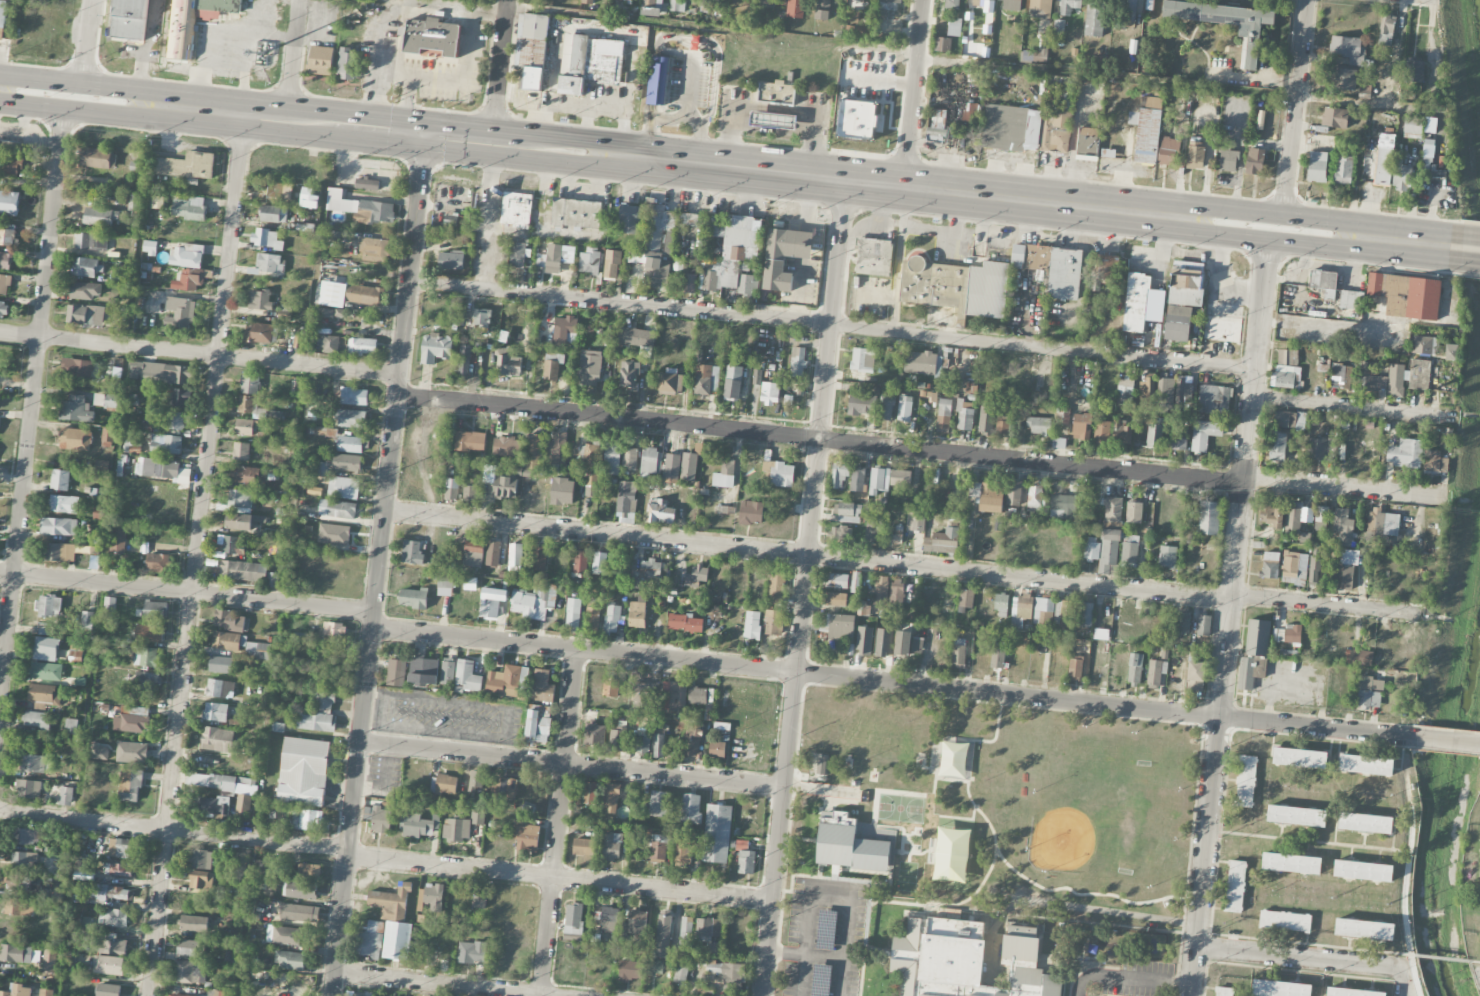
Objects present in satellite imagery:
building: (628, 0)
building: (891, 1)
building: (588, 2)
building: (767, 3)
building: (952, 4)
building: (677, 5)
building: (984, 5)
building: (1011, 5)
building: (1069, 6)
building: (1041, 8)
building: (795, 9)
building: (823, 10)
building: (1130, 10)
building: (650, 12)
building: (3, 18)
building: (129, 20)
building: (1093, 21)
building: (193, 23)
building: (954, 27)
building: (1059, 27)
building: (1249, 30)
building: (1386, 30)
building: (432, 37)
building: (942, 45)
building: (1348, 48)
road: (89, 50)
building: (532, 50)
road: (913, 55)
building: (1039, 56)
road: (293, 61)
building: (320, 61)
building: (590, 63)
building: (1415, 70)
building: (347, 71)
road: (500, 72)
building: (1344, 78)
building: (658, 81)
road: (448, 83)
building: (1364, 90)
building: (777, 93)
road: (915, 94)
building: (1064, 97)
building: (1151, 101)
road: (568, 105)
road: (1296, 106)
building: (969, 116)
road: (623, 117)
building: (1335, 117)
road: (678, 121)
building: (774, 121)
building: (938, 124)
building: (1430, 125)
building: (1012, 127)
building: (1413, 127)
building: (1056, 130)
building: (1146, 134)
building: (1088, 142)
building: (9, 147)
building: (1169, 151)
building: (1107, 153)
building: (1195, 154)
road: (594, 156)
building: (98, 159)
building: (1385, 159)
building: (1229, 160)
building: (1255, 160)
building: (1430, 161)
building: (10, 166)
building: (187, 166)
building: (1317, 166)
building: (1343, 169)
building: (1402, 176)
building: (367, 184)
building: (270, 193)
building: (310, 199)
building: (9, 203)
building: (158, 203)
building: (361, 208)
building: (190, 209)
building: (516, 210)
road: (1282, 212)
building: (576, 214)
building: (271, 215)
building: (100, 217)
building: (454, 220)
building: (629, 220)
building: (688, 220)
building: (659, 227)
building: (7, 235)
building: (266, 239)
building: (90, 242)
road: (1278, 243)
road: (1411, 244)
building: (669, 245)
building: (716, 246)
building: (149, 247)
building: (375, 250)
road: (1465, 250)
building: (730, 251)
building: (517, 255)
building: (186, 256)
building: (784, 257)
building: (874, 258)
building: (549, 259)
building: (5, 261)
building: (451, 261)
building: (590, 261)
road: (899, 261)
building: (269, 263)
building: (612, 264)
building: (1107, 266)
building: (87, 267)
building: (1052, 267)
building: (657, 272)
building: (119, 278)
building: (187, 282)
building: (1324, 283)
building: (4, 284)
building: (688, 284)
building: (748, 286)
building: (956, 286)
building: (1185, 290)
building: (85, 291)
building: (333, 295)
building: (365, 295)
building: (1407, 295)
building: (1351, 299)
building: (260, 301)
building: (1136, 302)
building: (4, 310)
building: (180, 313)
building: (85, 315)
building: (481, 318)
building: (1177, 323)
road: (833, 326)
building: (565, 329)
building: (1223, 329)
building: (259, 333)
building: (637, 340)
building: (297, 342)
building: (329, 345)
building: (1424, 345)
building: (361, 347)
building: (435, 349)
building: (1451, 352)
road: (199, 354)
building: (1287, 357)
building: (862, 360)
building: (797, 362)
building: (463, 363)
building: (508, 363)
building: (922, 363)
building: (118, 366)
building: (77, 368)
building: (592, 369)
building: (551, 370)
building: (160, 373)
building: (629, 374)
building: (1418, 374)
building: (1340, 376)
building: (757, 377)
building: (1285, 377)
building: (1370, 378)
building: (707, 380)
building: (1396, 380)
building: (733, 382)
building: (671, 384)
building: (249, 385)
building: (1105, 386)
building: (971, 388)
building: (1126, 388)
building: (1146, 389)
building: (1184, 392)
building: (770, 394)
building: (1166, 395)
building: (354, 397)
building: (177, 398)
building: (1214, 399)
building: (105, 400)
road: (31, 401)
building: (862, 405)
road: (1354, 407)
building: (886, 408)
building: (905, 409)
building: (75, 410)
building: (257, 410)
building: (944, 414)
building: (964, 415)
building: (1061, 415)
building: (986, 416)
building: (352, 419)
building: (1290, 419)
building: (175, 421)
building: (1002, 424)
building: (1040, 425)
building: (1081, 426)
building: (244, 428)
building: (1102, 431)
building: (1123, 432)
building: (1204, 434)
building: (107, 438)
building: (74, 439)
road: (821, 440)
building: (1178, 440)
building: (469, 441)
building: (1057, 441)
building: (166, 444)
building: (352, 444)
building: (1278, 446)
building: (505, 447)
building: (1318, 448)
building: (134, 450)
building: (556, 450)
building: (533, 451)
building: (241, 452)
building: (1405, 453)
building: (588, 457)
building: (629, 458)
building: (612, 459)
building: (651, 462)
building: (1436, 462)
road: (115, 464)
building: (347, 464)
building: (101, 467)
building: (689, 467)
building: (158, 469)
building: (318, 469)
building: (671, 469)
building: (779, 474)
building: (725, 475)
building: (839, 475)
building: (248, 476)
building: (900, 478)
building: (857, 479)
building: (60, 480)
building: (591, 480)
road: (1246, 480)
building: (879, 481)
building: (505, 487)
road: (1346, 487)
building: (347, 488)
building: (451, 489)
building: (562, 492)
building: (1014, 492)
building: (469, 494)
building: (988, 496)
building: (1034, 497)
building: (240, 499)
building: (626, 503)
building: (63, 504)
building: (1062, 506)
building: (1113, 509)
building: (337, 510)
building: (660, 512)
building: (1134, 512)
building: (751, 513)
building: (849, 513)
building: (1271, 515)
building: (1209, 517)
building: (1322, 517)
building: (1293, 518)
building: (243, 521)
building: (915, 522)
building: (1383, 522)
building: (60, 527)
building: (1343, 527)
building: (873, 529)
building: (841, 533)
building: (334, 535)
building: (898, 535)
building: (117, 540)
building: (942, 542)
building: (231, 545)
building: (1104, 550)
building: (59, 553)
building: (412, 553)
building: (492, 554)
building: (1129, 554)
building: (473, 555)
road: (809, 555)
road: (196, 556)
building: (1167, 556)
building: (515, 557)
building: (538, 558)
road: (284, 561)
building: (157, 563)
building: (580, 563)
building: (599, 563)
building: (1270, 565)
road: (379, 566)
building: (1315, 567)
building: (1294, 568)
building: (1345, 569)
building: (247, 573)
building: (648, 573)
building: (694, 577)
building: (835, 581)
building: (470, 584)
building: (776, 588)
building: (444, 589)
road: (804, 589)
road: (187, 594)
building: (881, 594)
building: (896, 596)
building: (414, 598)
building: (966, 598)
building: (833, 600)
building: (492, 602)
building: (533, 602)
building: (109, 603)
building: (1001, 604)
road: (1327, 604)
building: (49, 606)
building: (863, 609)
building: (155, 610)
building: (1021, 610)
building: (1043, 612)
building: (1063, 612)
building: (573, 613)
building: (1086, 613)
building: (637, 615)
building: (87, 618)
building: (591, 619)
building: (612, 620)
building: (229, 621)
building: (1183, 622)
building: (684, 623)
building: (773, 623)
building: (1203, 624)
building: (752, 625)
building: (839, 627)
building: (333, 630)
building: (1292, 633)
building: (149, 634)
building: (1100, 634)
building: (1257, 637)
building: (902, 643)
building: (883, 644)
building: (240, 645)
building: (917, 645)
building: (45, 649)
building: (959, 654)
building: (76, 657)
building: (146, 657)
building: (997, 658)
building: (222, 665)
building: (1075, 668)
building: (1135, 668)
building: (423, 671)
building: (45, 672)
building: (1155, 672)
building: (396, 673)
building: (447, 673)
building: (1248, 673)
building: (1194, 674)
building: (468, 676)
building: (147, 681)
building: (504, 681)
road: (896, 684)
building: (542, 687)
building: (610, 688)
building: (220, 689)
building: (1370, 692)
building: (641, 694)
building: (45, 695)
building: (697, 696)
building: (673, 699)
building: (322, 700)
building: (215, 712)
building: (134, 720)
building: (37, 721)
building: (315, 722)
building: (71, 726)
building: (538, 727)
building: (594, 734)
road: (961, 738)
building: (218, 740)
building: (618, 740)
road: (1450, 740)
building: (643, 741)
building: (694, 742)
building: (659, 746)
building: (717, 750)
building: (99, 752)
building: (132, 753)
building: (1299, 758)
building: (954, 759)
building: (36, 764)
road: (572, 764)
building: (1366, 764)
building: (821, 765)
building: (303, 772)
road: (951, 779)
building: (476, 780)
building: (1245, 781)
building: (446, 784)
building: (130, 786)
building: (226, 788)
building: (28, 789)
building: (506, 790)
building: (589, 793)
building: (66, 796)
building: (612, 799)
building: (659, 804)
building: (213, 806)
park: (901, 808)
building: (690, 810)
park: (1089, 814)
building: (1296, 815)
road: (38, 817)
building: (477, 818)
park: (980, 818)
building: (307, 820)
building: (381, 821)
road: (559, 821)
building: (1366, 823)
building: (418, 825)
building: (456, 831)
road: (213, 834)
building: (717, 834)
building: (525, 835)
building: (27, 837)
road: (1305, 841)
building: (742, 845)
building: (848, 845)
building: (612, 846)
building: (584, 847)
building: (659, 847)
building: (122, 848)
building: (683, 854)
building: (952, 855)
road: (1206, 856)
building: (24, 860)
building: (202, 860)
building: (746, 863)
road: (1407, 866)
building: (117, 870)
building: (309, 870)
building: (1363, 871)
building: (261, 875)
road: (560, 879)
building: (201, 880)
building: (13, 883)
building: (1234, 886)
building: (300, 891)
building: (111, 893)
road: (973, 893)
road: (1091, 894)
road: (830, 895)
building: (434, 897)
building: (479, 900)
building: (391, 902)
building: (19, 907)
building: (296, 913)
building: (115, 918)
building: (609, 919)
building: (1285, 921)
building: (573, 922)
building: (637, 922)
building: (194, 924)
building: (1364, 929)
building: (686, 931)
building: (708, 933)
building: (663, 934)
building: (283, 936)
parking lot: (818, 936)
building: (370, 941)
building: (397, 941)
building: (110, 947)
building: (188, 948)
building: (472, 952)
building: (20, 954)
road: (806, 955)
building: (939, 957)
road: (1301, 958)
road: (1407, 959)
road: (1442, 959)
building: (49, 961)
building: (289, 961)
building: (1027, 964)
building: (108, 965)
road: (1479, 965)
building: (655, 968)
building: (629, 971)
building: (188, 973)
building: (681, 975)
building: (729, 975)
road: (1479, 977)
road: (1129, 978)
building: (821, 980)
road: (1404, 982)
road: (438, 985)
building: (1279, 988)
building: (108, 990)
building: (17, 991)
building: (1222, 991)
building: (1353, 992)
building: (46, 993)
building: (219, 993)
building: (1001, 994)
building: (181, 995)
building: (968, 995)

